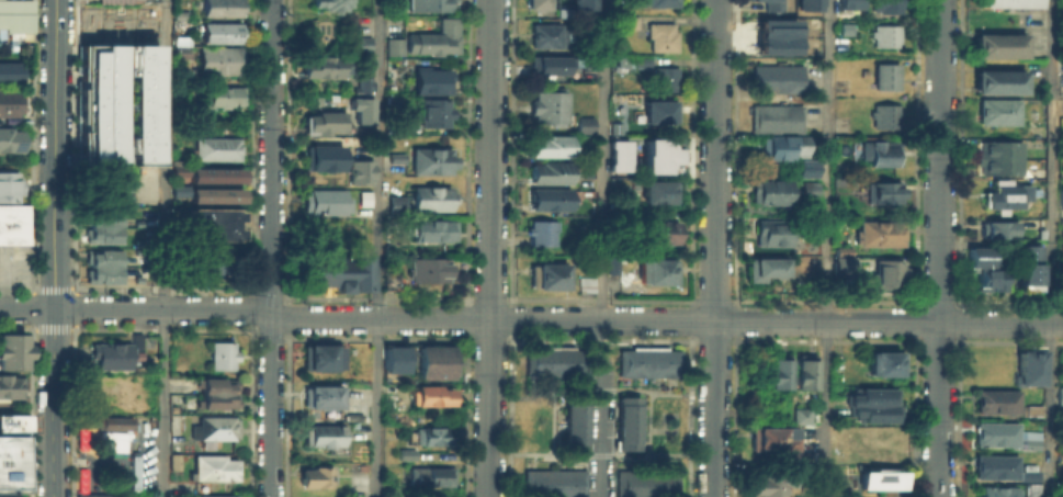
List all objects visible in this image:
building: (113, 1)
building: (653, 2)
building: (326, 3)
building: (428, 3)
building: (534, 3)
building: (579, 3)
building: (805, 3)
building: (850, 3)
building: (1007, 3)
building: (771, 4)
building: (884, 4)
building: (219, 5)
building: (178, 11)
building: (15, 15)
building: (626, 21)
building: (218, 29)
building: (546, 33)
building: (883, 34)
building: (180, 35)
building: (659, 35)
building: (432, 37)
building: (181, 39)
building: (355, 39)
building: (770, 39)
building: (393, 43)
building: (996, 44)
building: (180, 48)
building: (88, 52)
building: (218, 58)
building: (638, 59)
building: (545, 63)
building: (325, 64)
building: (9, 70)
building: (883, 75)
building: (665, 77)
building: (776, 77)
building: (88, 78)
building: (430, 79)
building: (995, 80)
building: (219, 93)
building: (360, 98)
building: (9, 101)
building: (127, 101)
building: (88, 104)
building: (1062, 105)
building: (550, 106)
building: (392, 109)
building: (658, 109)
building: (996, 110)
building: (433, 111)
building: (883, 115)
building: (774, 116)
building: (320, 121)
building: (1062, 123)
building: (584, 124)
building: (614, 127)
building: (8, 138)
building: (87, 142)
building: (546, 144)
building: (781, 144)
building: (213, 146)
building: (879, 151)
building: (617, 155)
building: (660, 155)
building: (321, 156)
building: (394, 156)
building: (997, 156)
building: (430, 159)
road: (602, 159)
building: (177, 167)
building: (355, 168)
building: (213, 170)
building: (547, 170)
building: (9, 184)
building: (177, 187)
building: (808, 188)
building: (658, 189)
building: (770, 190)
building: (212, 191)
building: (880, 191)
building: (110, 194)
building: (1006, 194)
building: (429, 196)
building: (1061, 196)
building: (363, 197)
building: (547, 197)
building: (323, 199)
building: (394, 202)
building: (103, 216)
building: (210, 222)
building: (13, 223)
building: (431, 228)
building: (994, 228)
building: (539, 230)
building: (772, 230)
building: (655, 231)
building: (877, 231)
building: (102, 233)
road: (55, 248)
road: (165, 248)
road: (271, 248)
road: (378, 248)
road: (490, 248)
road: (714, 248)
road: (826, 248)
road: (938, 248)
road: (1052, 248)
building: (840, 250)
building: (102, 257)
building: (205, 259)
building: (840, 262)
building: (427, 266)
building: (611, 266)
building: (1026, 267)
building: (760, 268)
building: (983, 268)
building: (655, 269)
building: (336, 270)
building: (102, 273)
building: (544, 273)
building: (883, 273)
building: (136, 278)
building: (580, 279)
road: (0, 284)
road: (53, 287)
road: (75, 306)
road: (31, 307)
road: (530, 319)
road: (52, 326)
building: (12, 346)
building: (218, 352)
building: (116, 353)
building: (319, 354)
building: (393, 359)
building: (434, 360)
building: (555, 361)
building: (645, 361)
building: (882, 362)
building: (1026, 366)
building: (774, 370)
building: (803, 372)
building: (11, 382)
building: (216, 391)
building: (429, 394)
building: (318, 395)
building: (1060, 395)
building: (994, 400)
building: (873, 404)
road: (601, 408)
building: (1030, 409)
building: (800, 415)
building: (14, 418)
building: (112, 421)
building: (625, 421)
building: (573, 425)
building: (212, 426)
building: (994, 432)
building: (320, 433)
building: (428, 434)
building: (768, 434)
building: (14, 438)
building: (113, 440)
building: (869, 441)
building: (404, 452)
building: (1059, 453)
building: (7, 456)
building: (796, 456)
building: (171, 458)
building: (212, 465)
building: (993, 465)
building: (133, 471)
building: (13, 473)
building: (1027, 473)
building: (429, 474)
building: (314, 476)
building: (877, 478)
building: (358, 481)
building: (645, 481)
building: (553, 482)
building: (764, 483)
building: (1029, 489)
building: (994, 490)
building: (7, 493)
building: (94, 494)
building: (213, 495)

